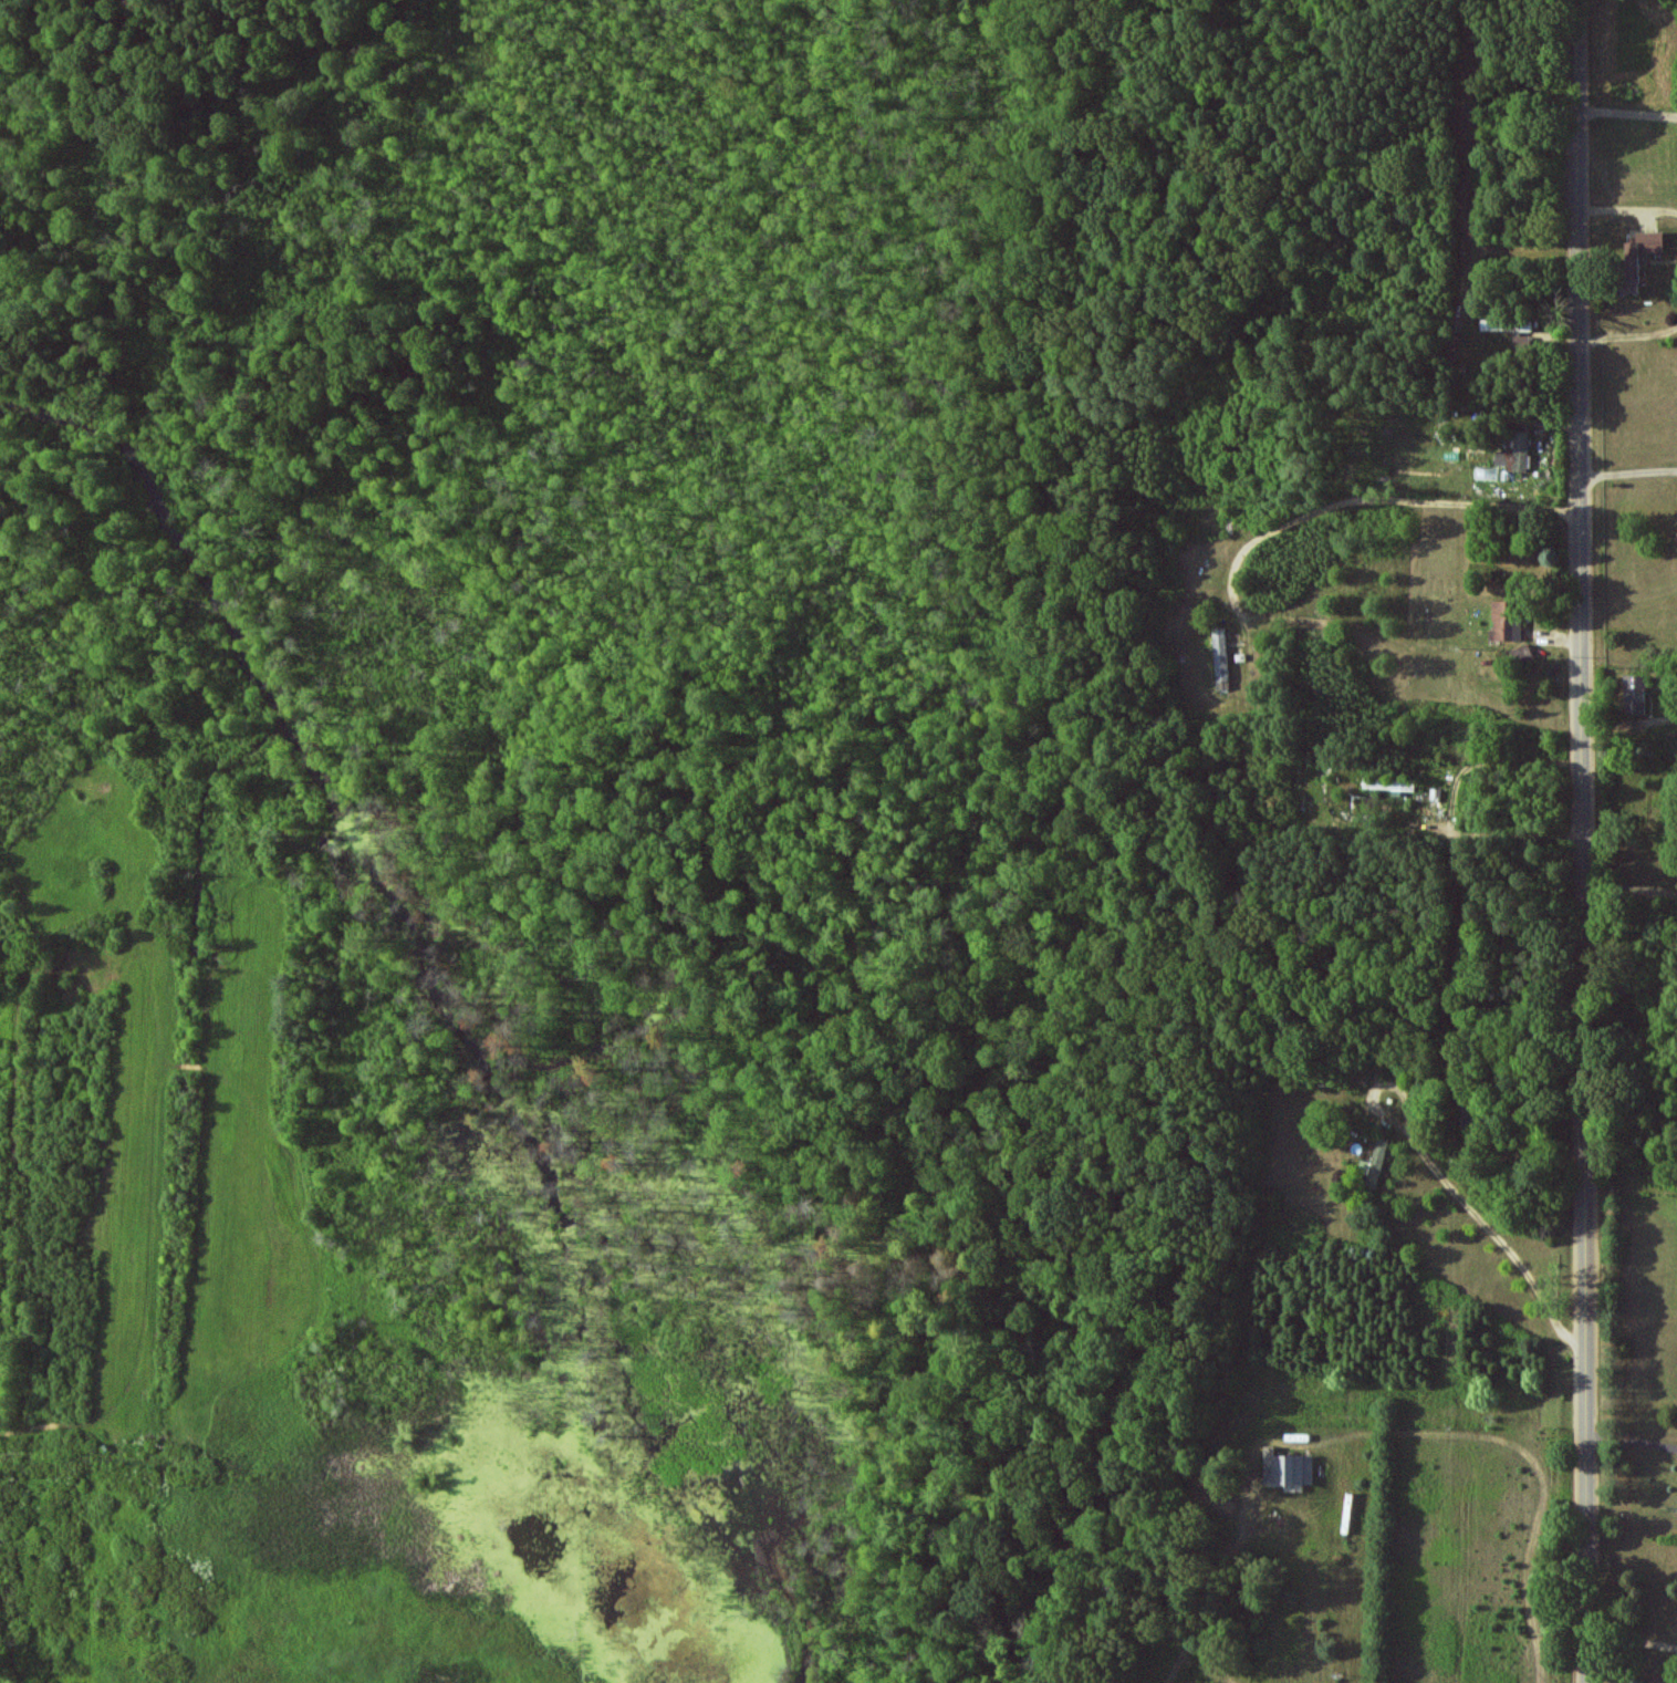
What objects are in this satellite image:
road: (1627, 105)
building: (1517, 453)
building: (1489, 471)
road: (1629, 472)
road: (1384, 497)
building: (1506, 620)
building: (1523, 655)
building: (1220, 657)
building: (1636, 693)
road: (1632, 748)
building: (1389, 783)
road: (1584, 841)
building: (1375, 1165)
road: (1633, 1433)
building: (1288, 1468)

